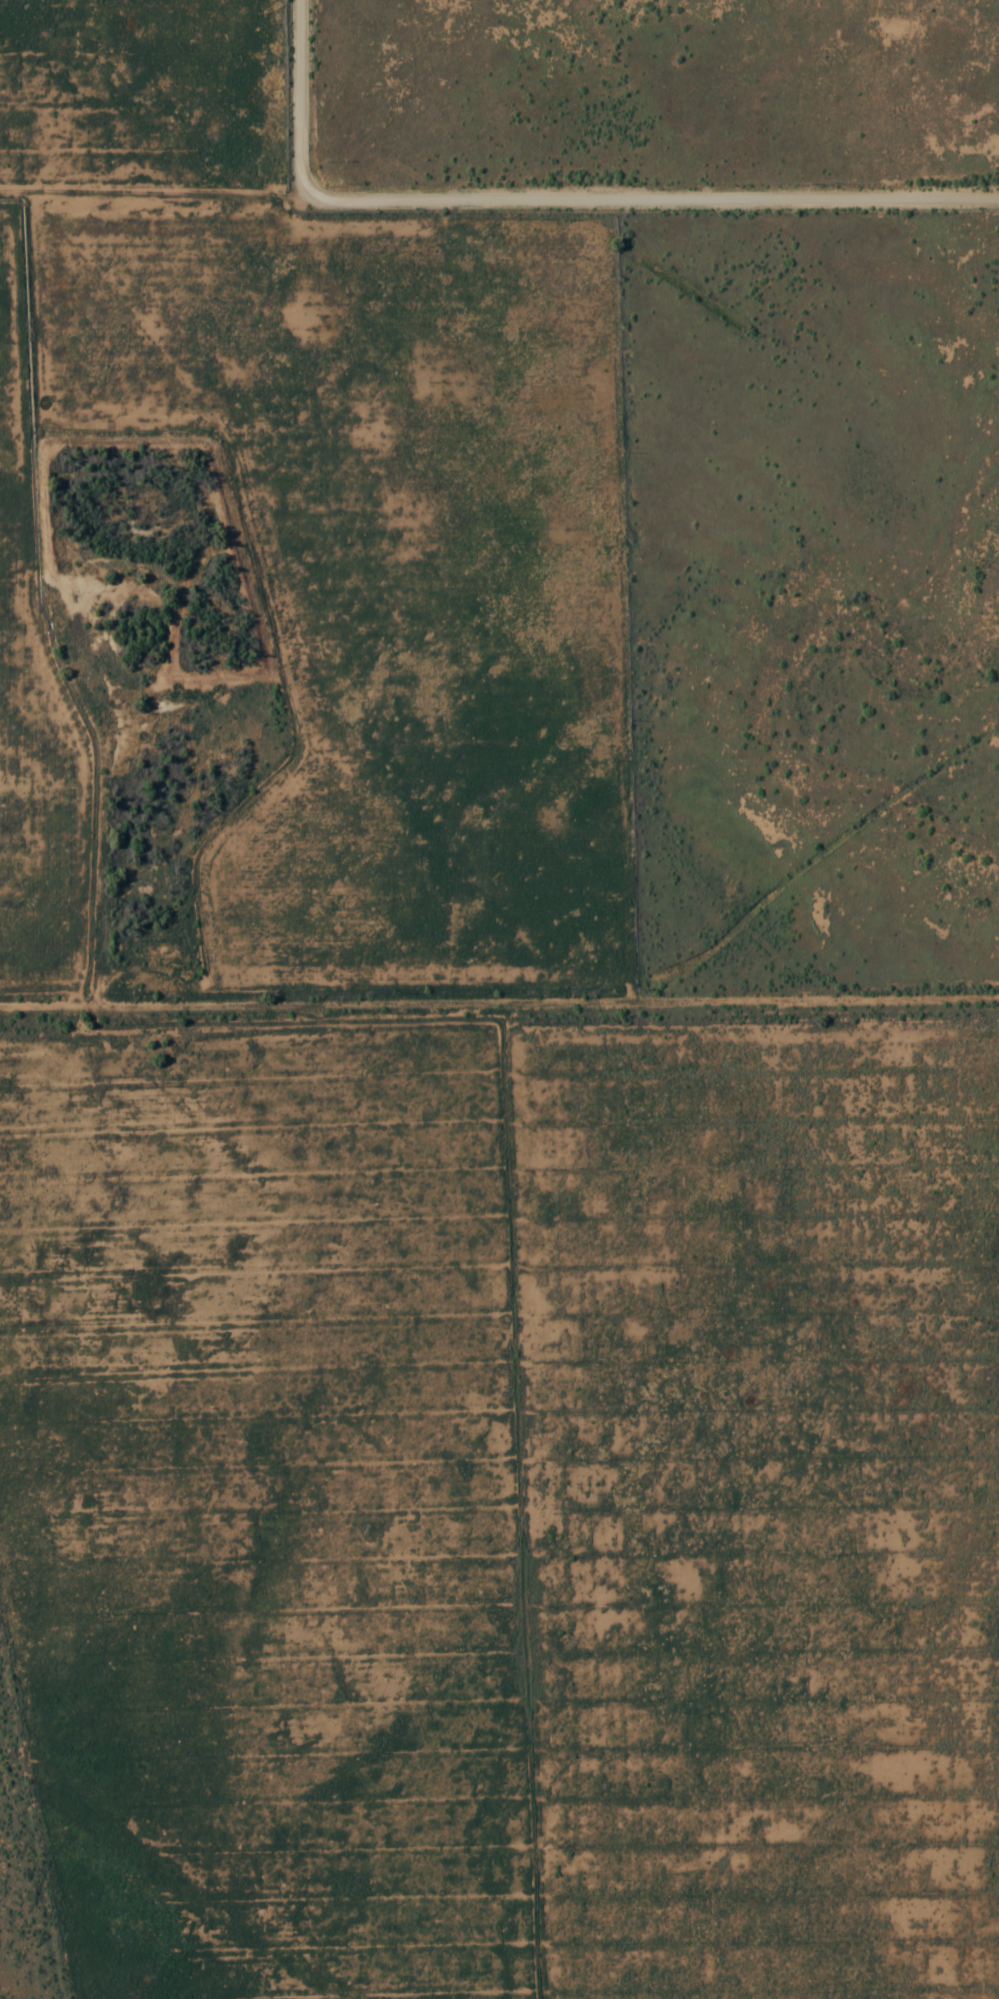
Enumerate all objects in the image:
road: (300, 85)
road: (641, 199)
road: (141, 865)
road: (499, 997)

